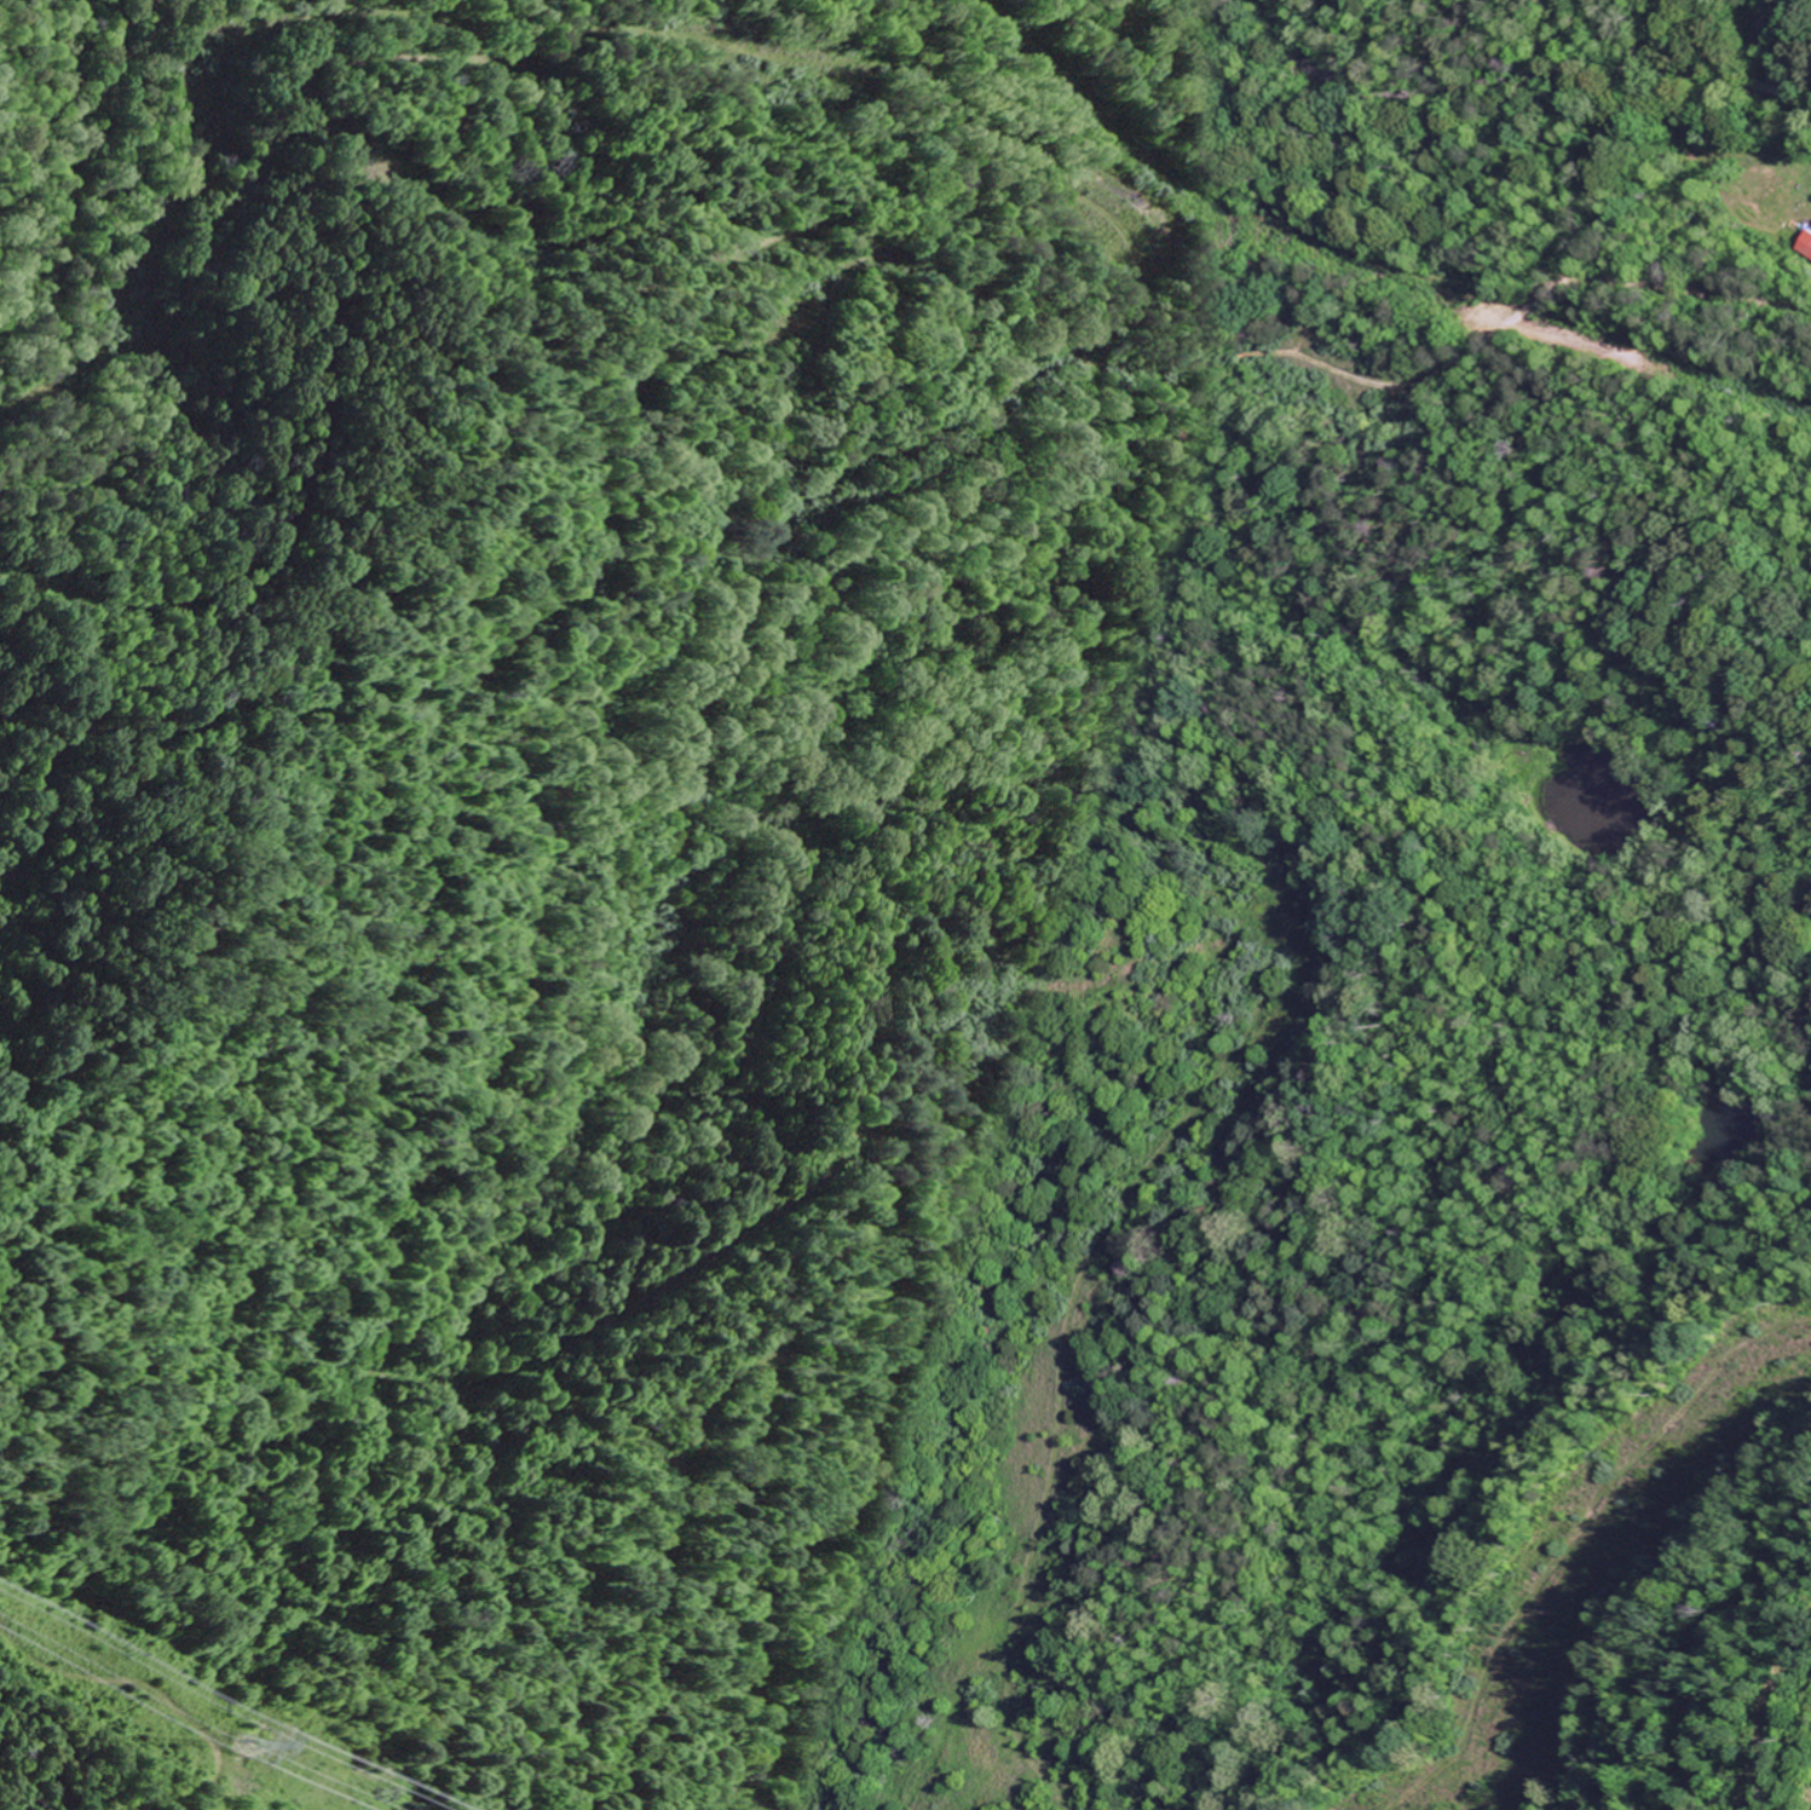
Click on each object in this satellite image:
road: (1498, 81)
building: (1806, 244)
power tower: (256, 1748)

